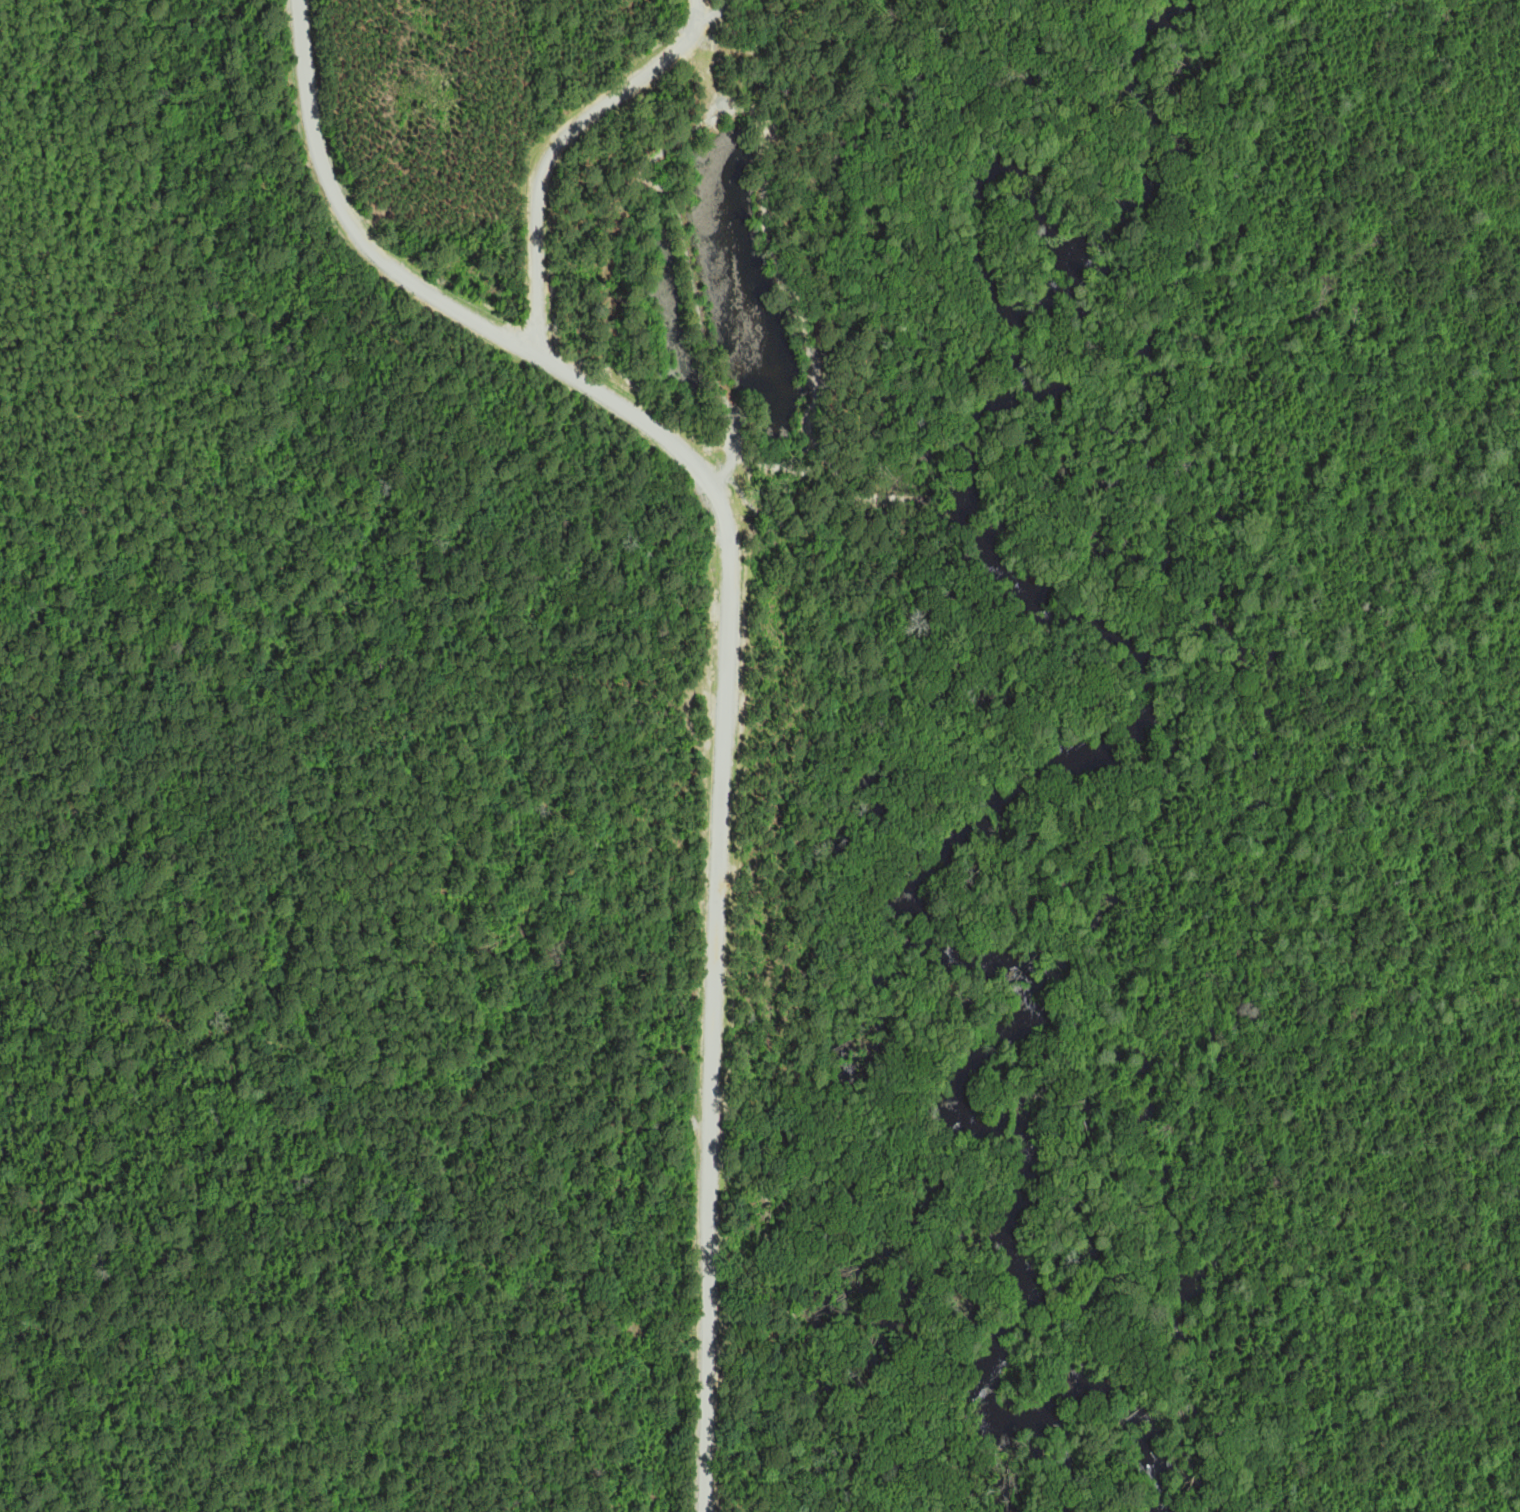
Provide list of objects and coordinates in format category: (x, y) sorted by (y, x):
river: (1152, 34)
road: (555, 147)
road: (352, 222)
road: (629, 411)
road: (732, 447)
river: (1152, 708)
park: (512, 747)
road: (721, 788)
road: (516, 1263)
road: (710, 1305)
road: (794, 1322)
road: (394, 1469)

